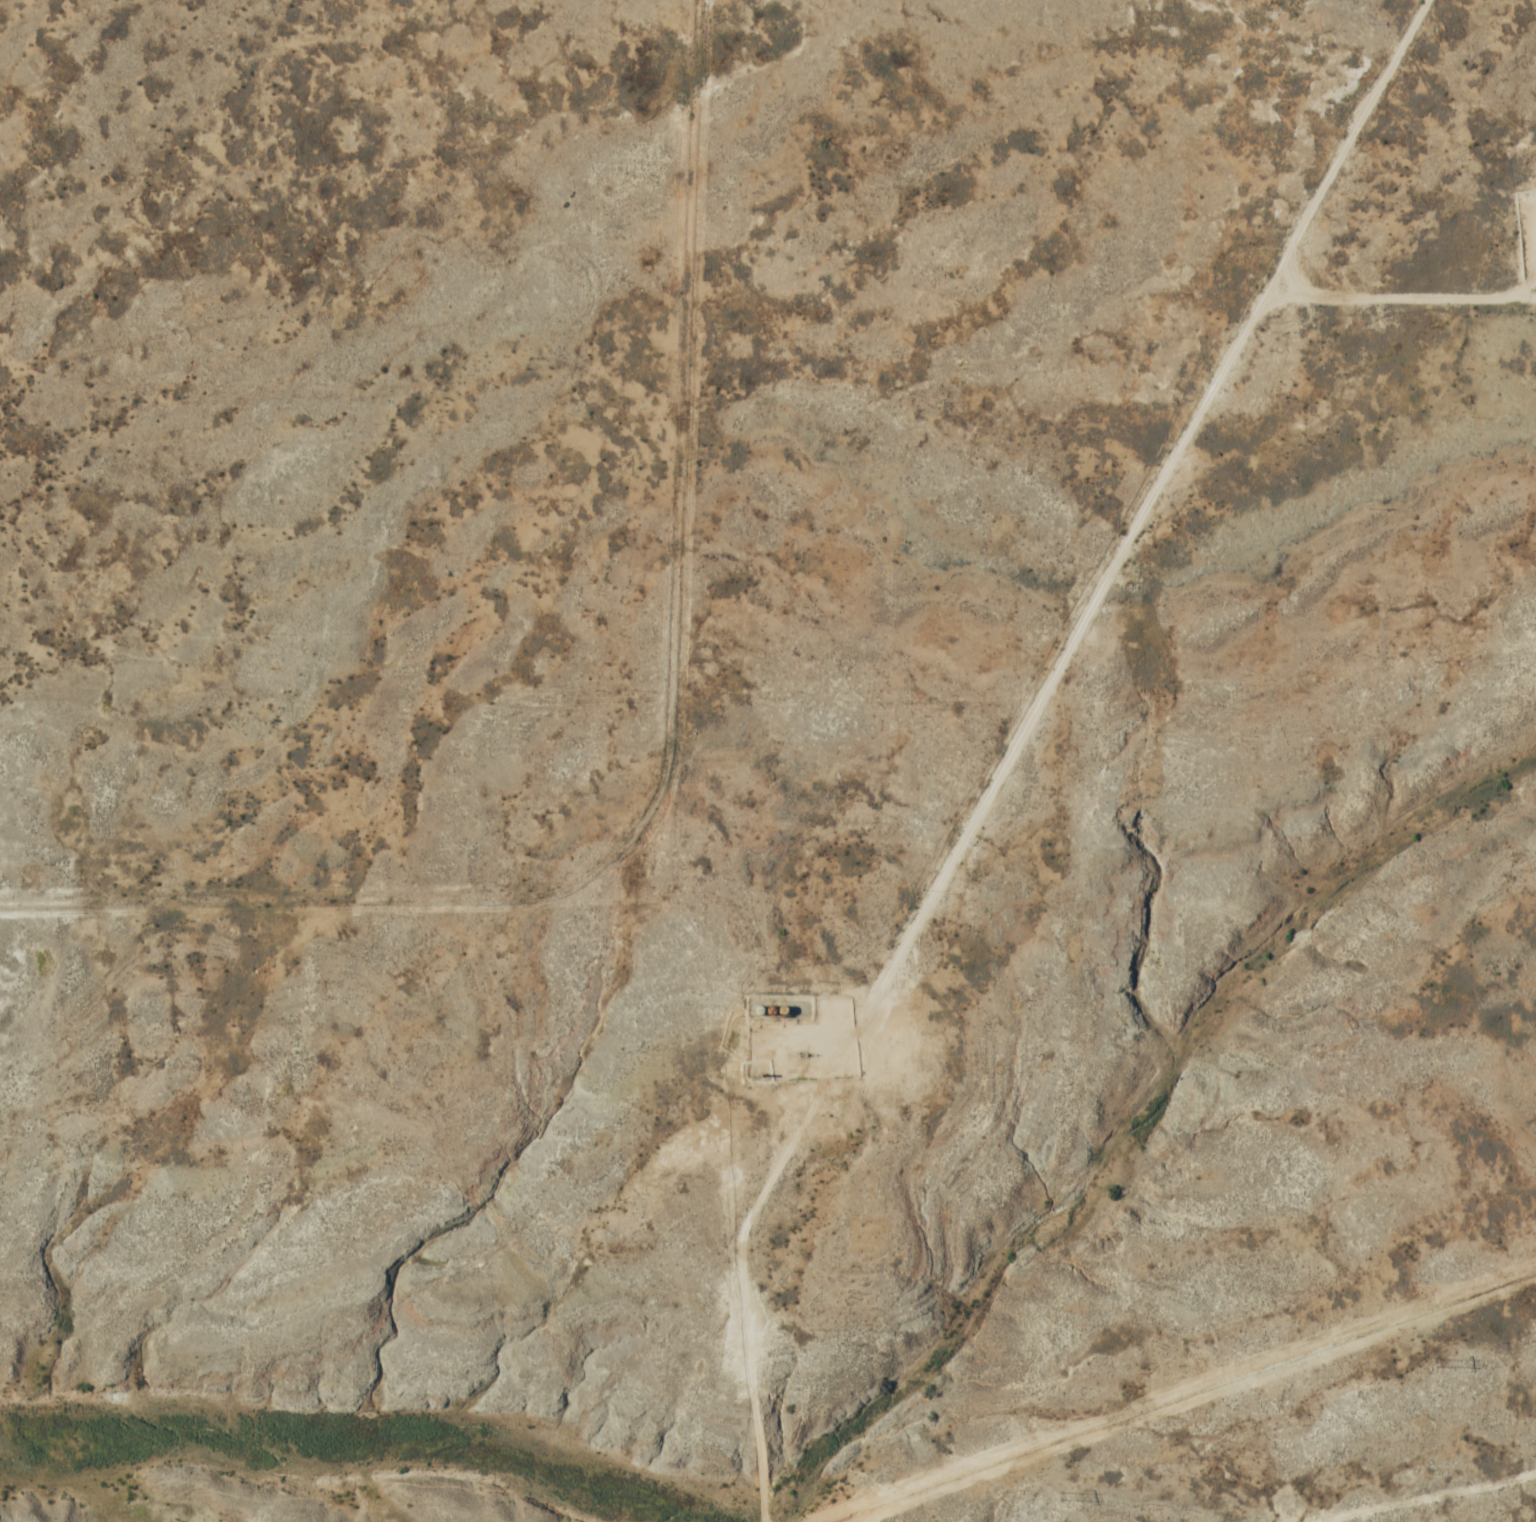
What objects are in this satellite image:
road: (1453, 293)
road: (1146, 497)
power tower: (1437, 1363)
power tower: (1060, 1496)

